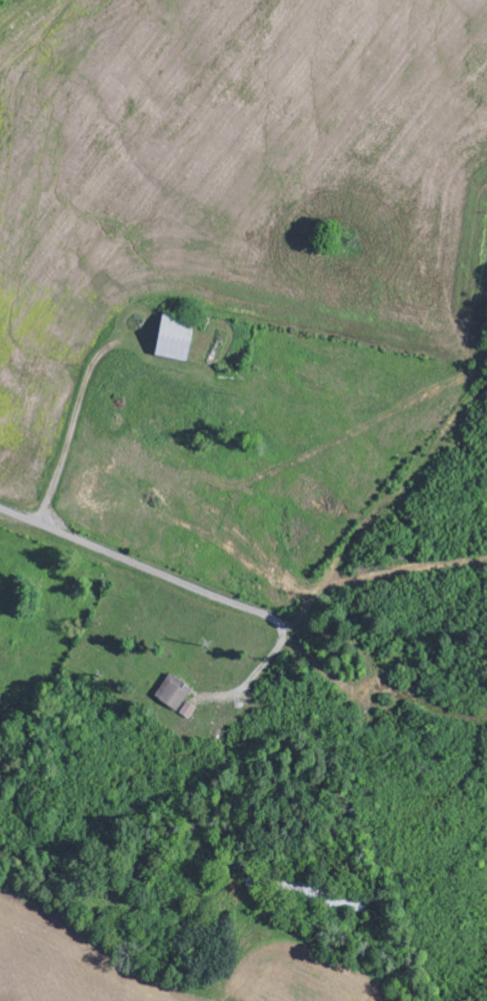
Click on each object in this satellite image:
building: (174, 337)
road: (158, 573)
building: (174, 691)
building: (189, 709)

